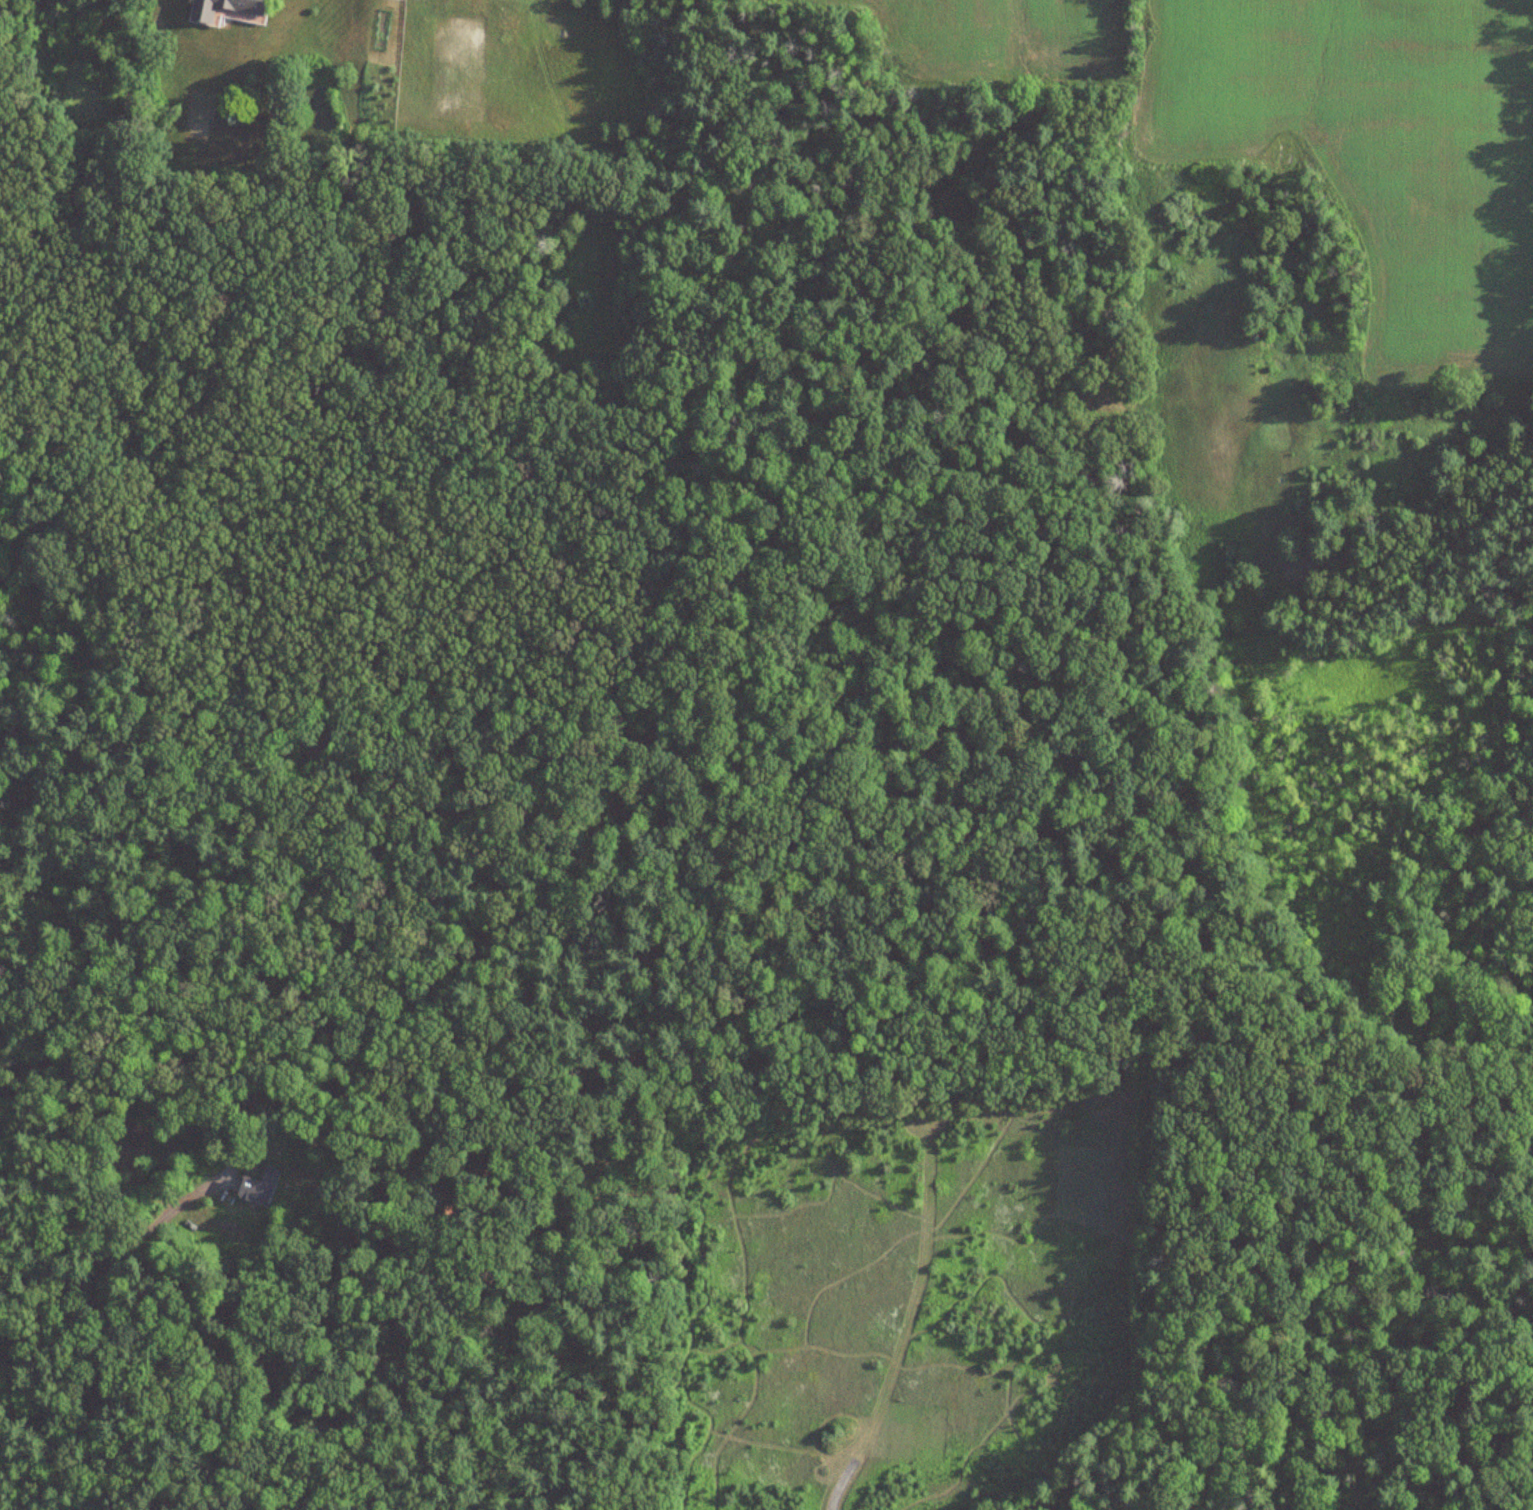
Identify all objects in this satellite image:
building: (221, 9)
building: (257, 1188)
road: (93, 1277)

